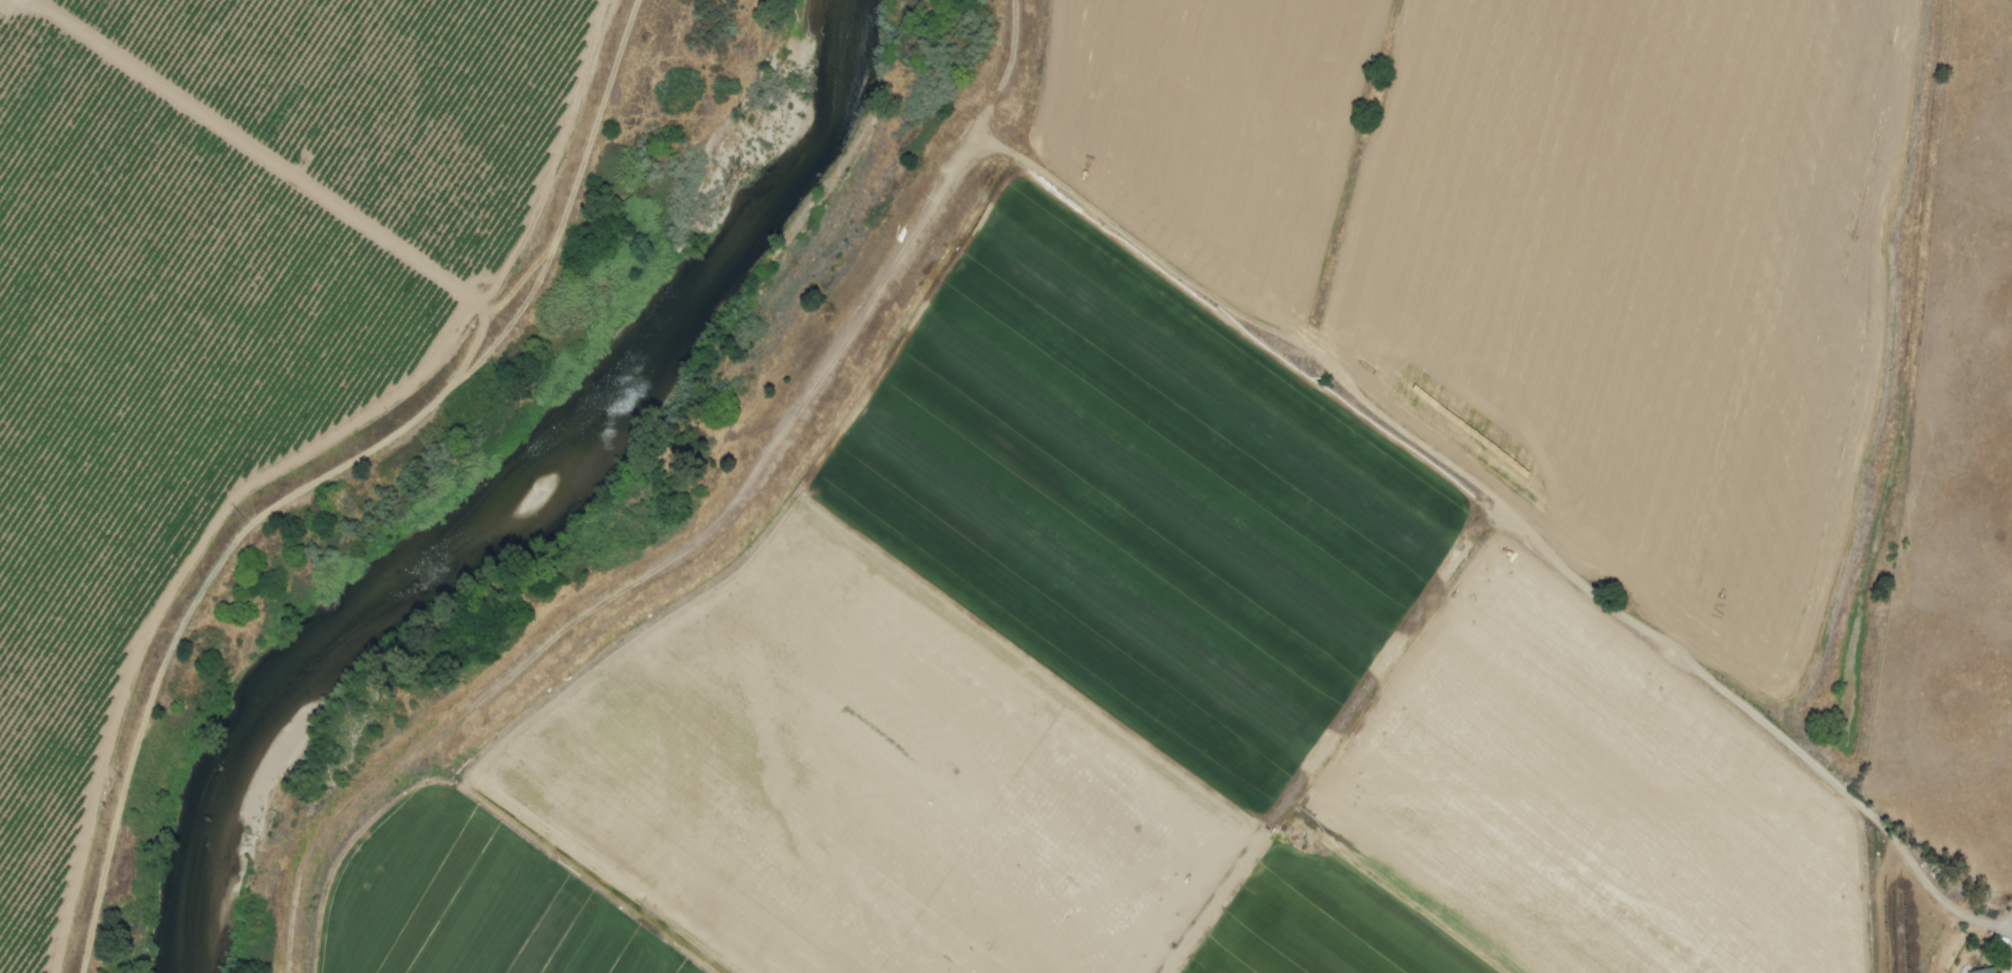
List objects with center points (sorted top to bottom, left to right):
river: (529, 506)
building: (1982, 970)

